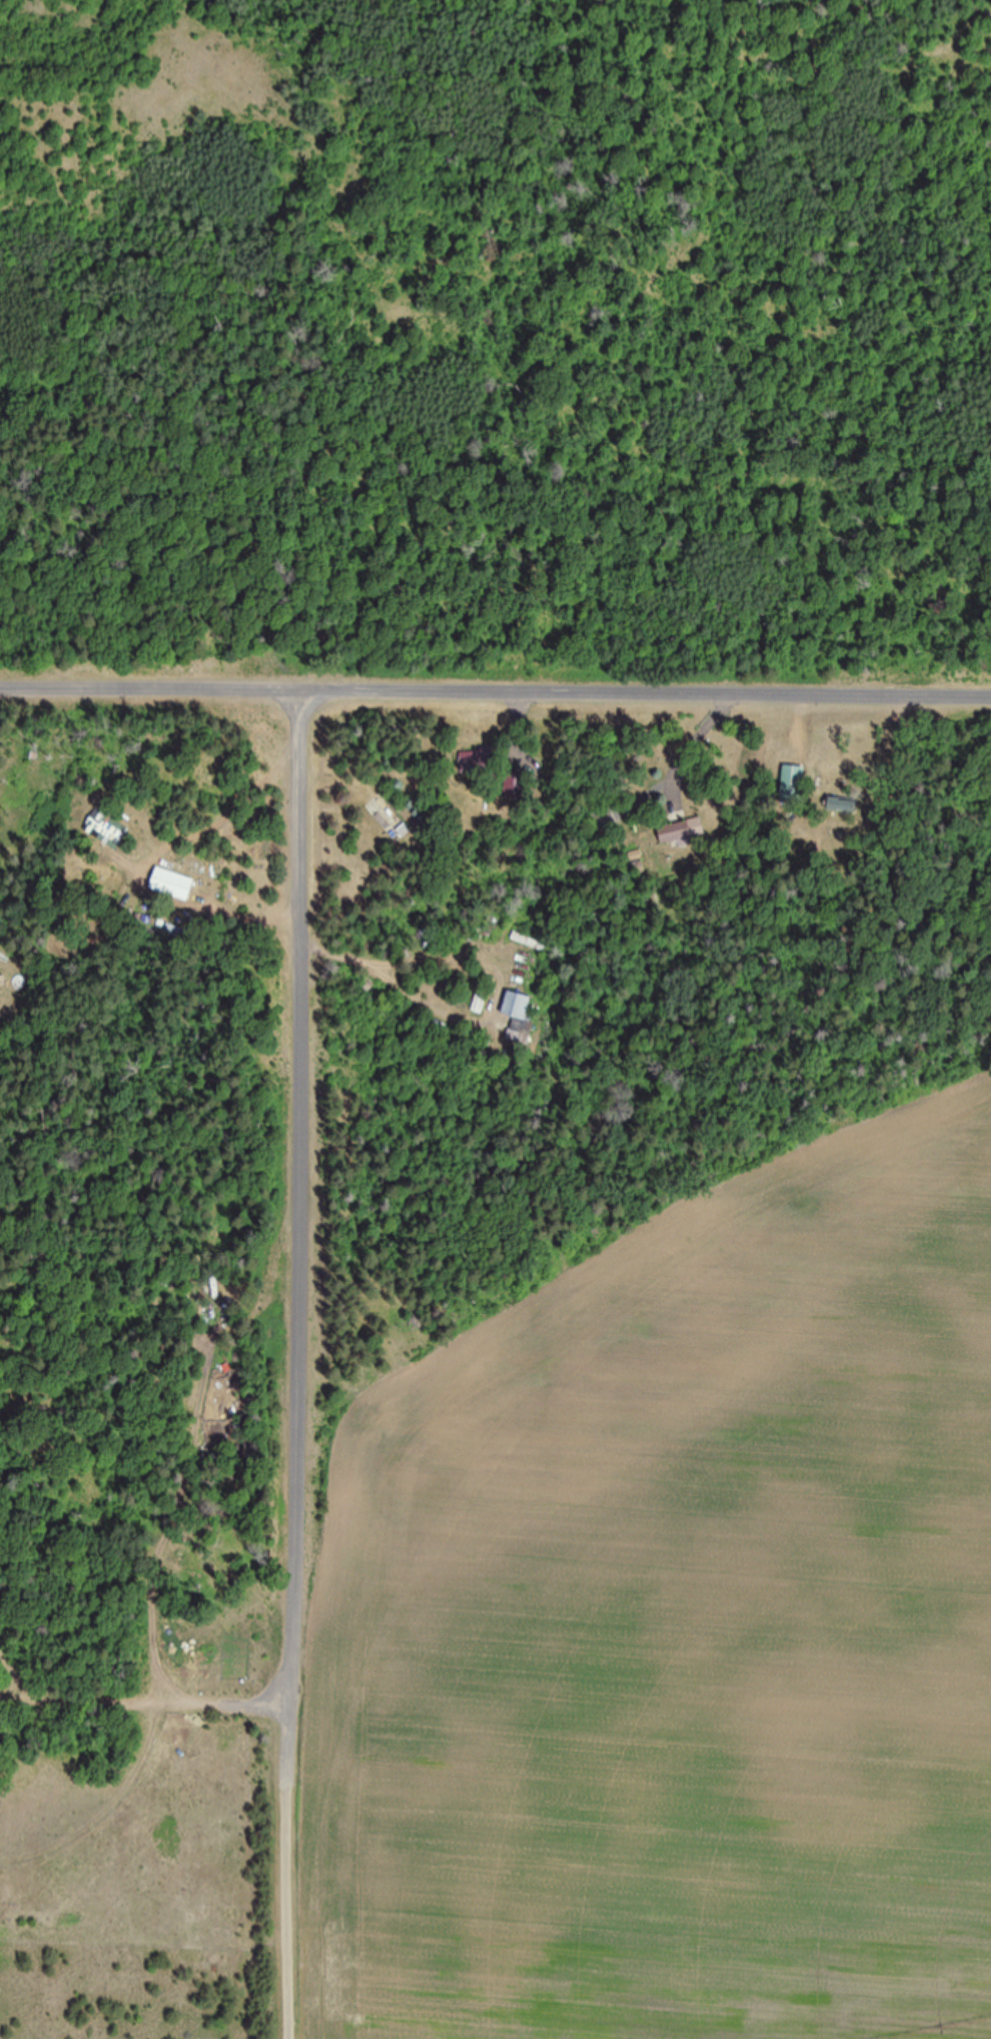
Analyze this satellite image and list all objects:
road: (495, 683)
building: (478, 760)
building: (794, 783)
building: (516, 785)
building: (843, 805)
building: (605, 820)
building: (683, 831)
building: (105, 832)
building: (173, 884)
building: (175, 931)
building: (3, 979)
building: (483, 994)
building: (519, 1016)
road: (304, 1360)

